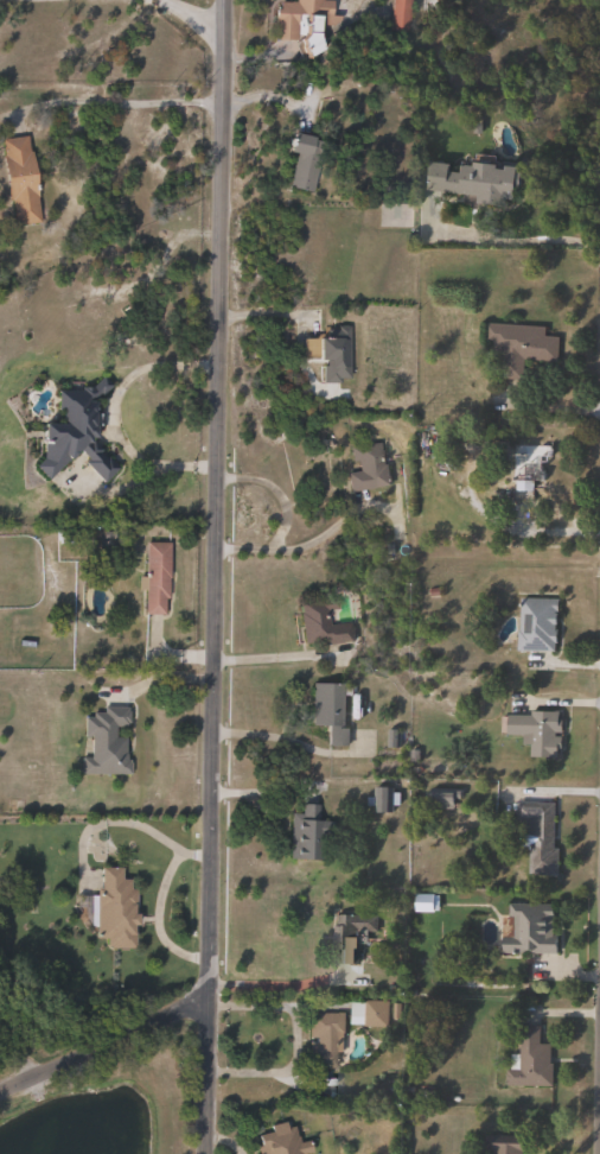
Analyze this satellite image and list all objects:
building: (400, 14)
building: (301, 17)
road: (189, 18)
road: (117, 103)
building: (305, 159)
building: (474, 179)
building: (19, 180)
road: (498, 240)
building: (519, 347)
building: (334, 354)
building: (74, 432)
building: (529, 465)
building: (368, 469)
road: (276, 489)
road: (541, 532)
road: (294, 546)
road: (215, 576)
building: (155, 577)
building: (321, 621)
building: (537, 624)
road: (273, 654)
building: (328, 715)
building: (537, 733)
building: (107, 742)
building: (442, 797)
building: (382, 800)
building: (306, 835)
road: (162, 839)
building: (543, 843)
building: (426, 902)
building: (115, 911)
road: (155, 918)
building: (530, 930)
building: (349, 938)
road: (276, 983)
building: (376, 1013)
road: (295, 1036)
building: (324, 1038)
road: (104, 1045)
building: (531, 1060)
building: (281, 1141)
building: (504, 1143)

